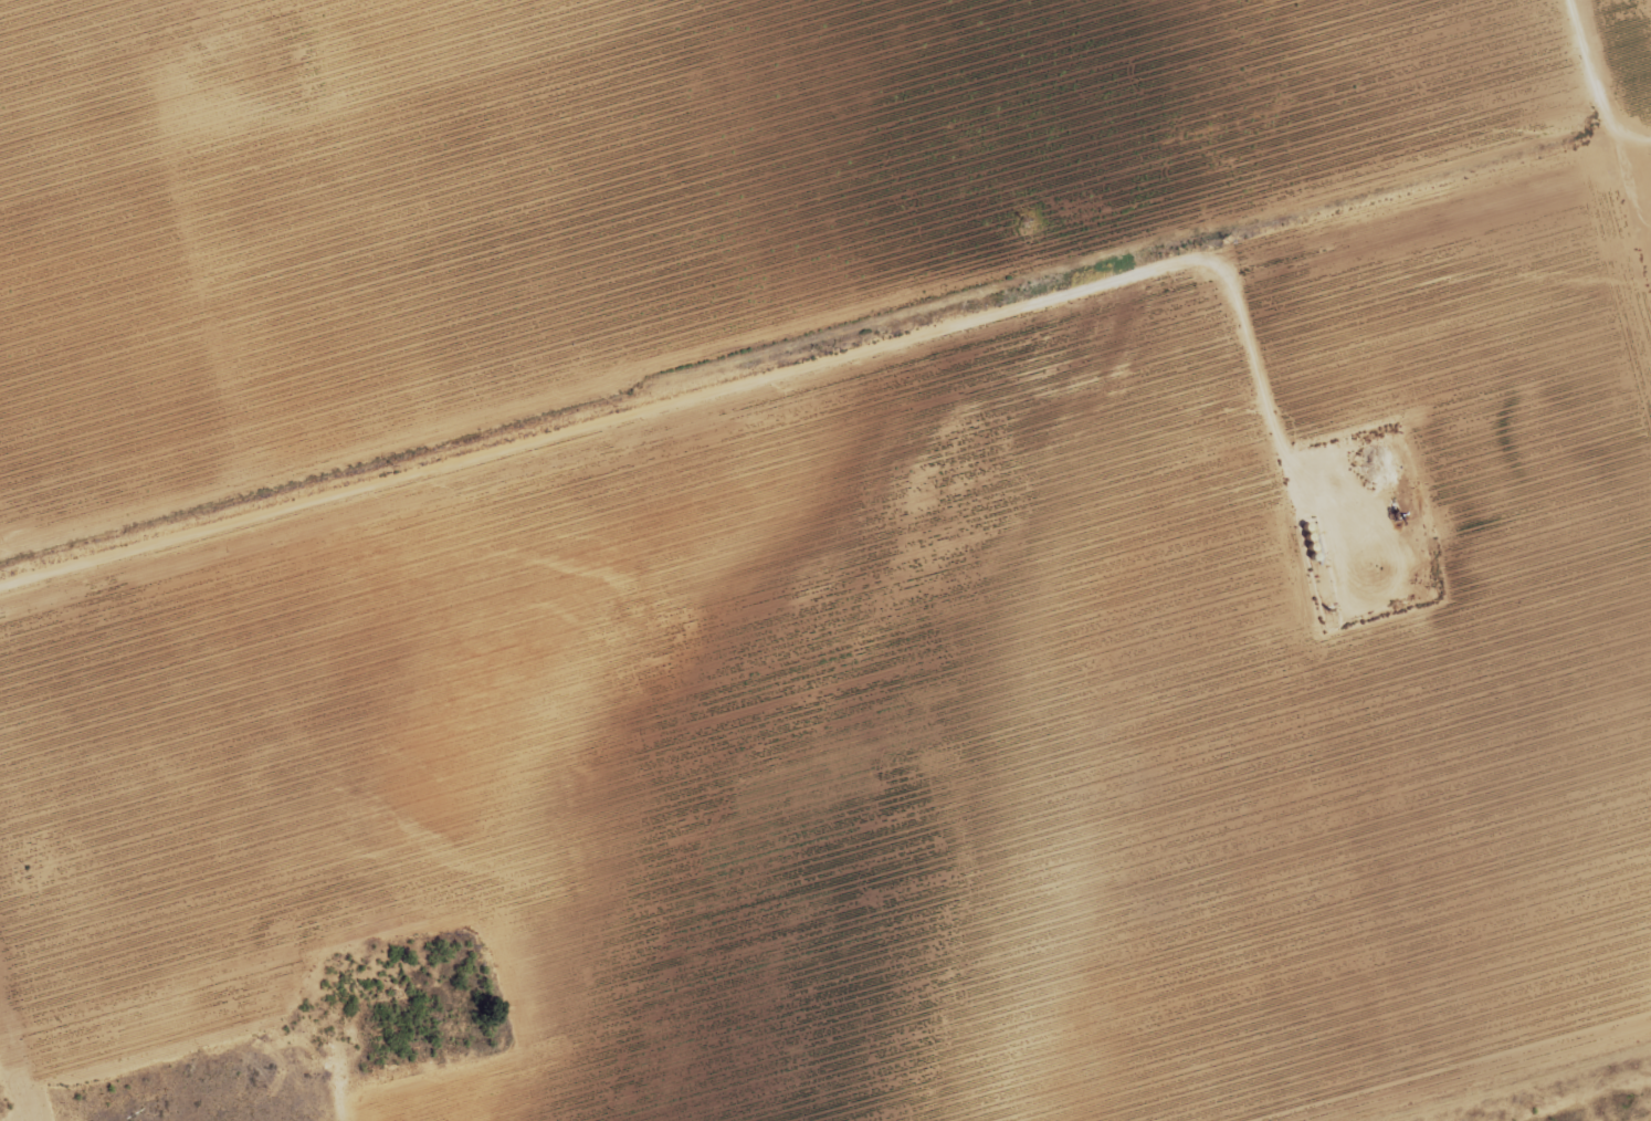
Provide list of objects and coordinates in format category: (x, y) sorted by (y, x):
road: (1592, 84)
building: (1306, 517)
building: (1373, 568)

